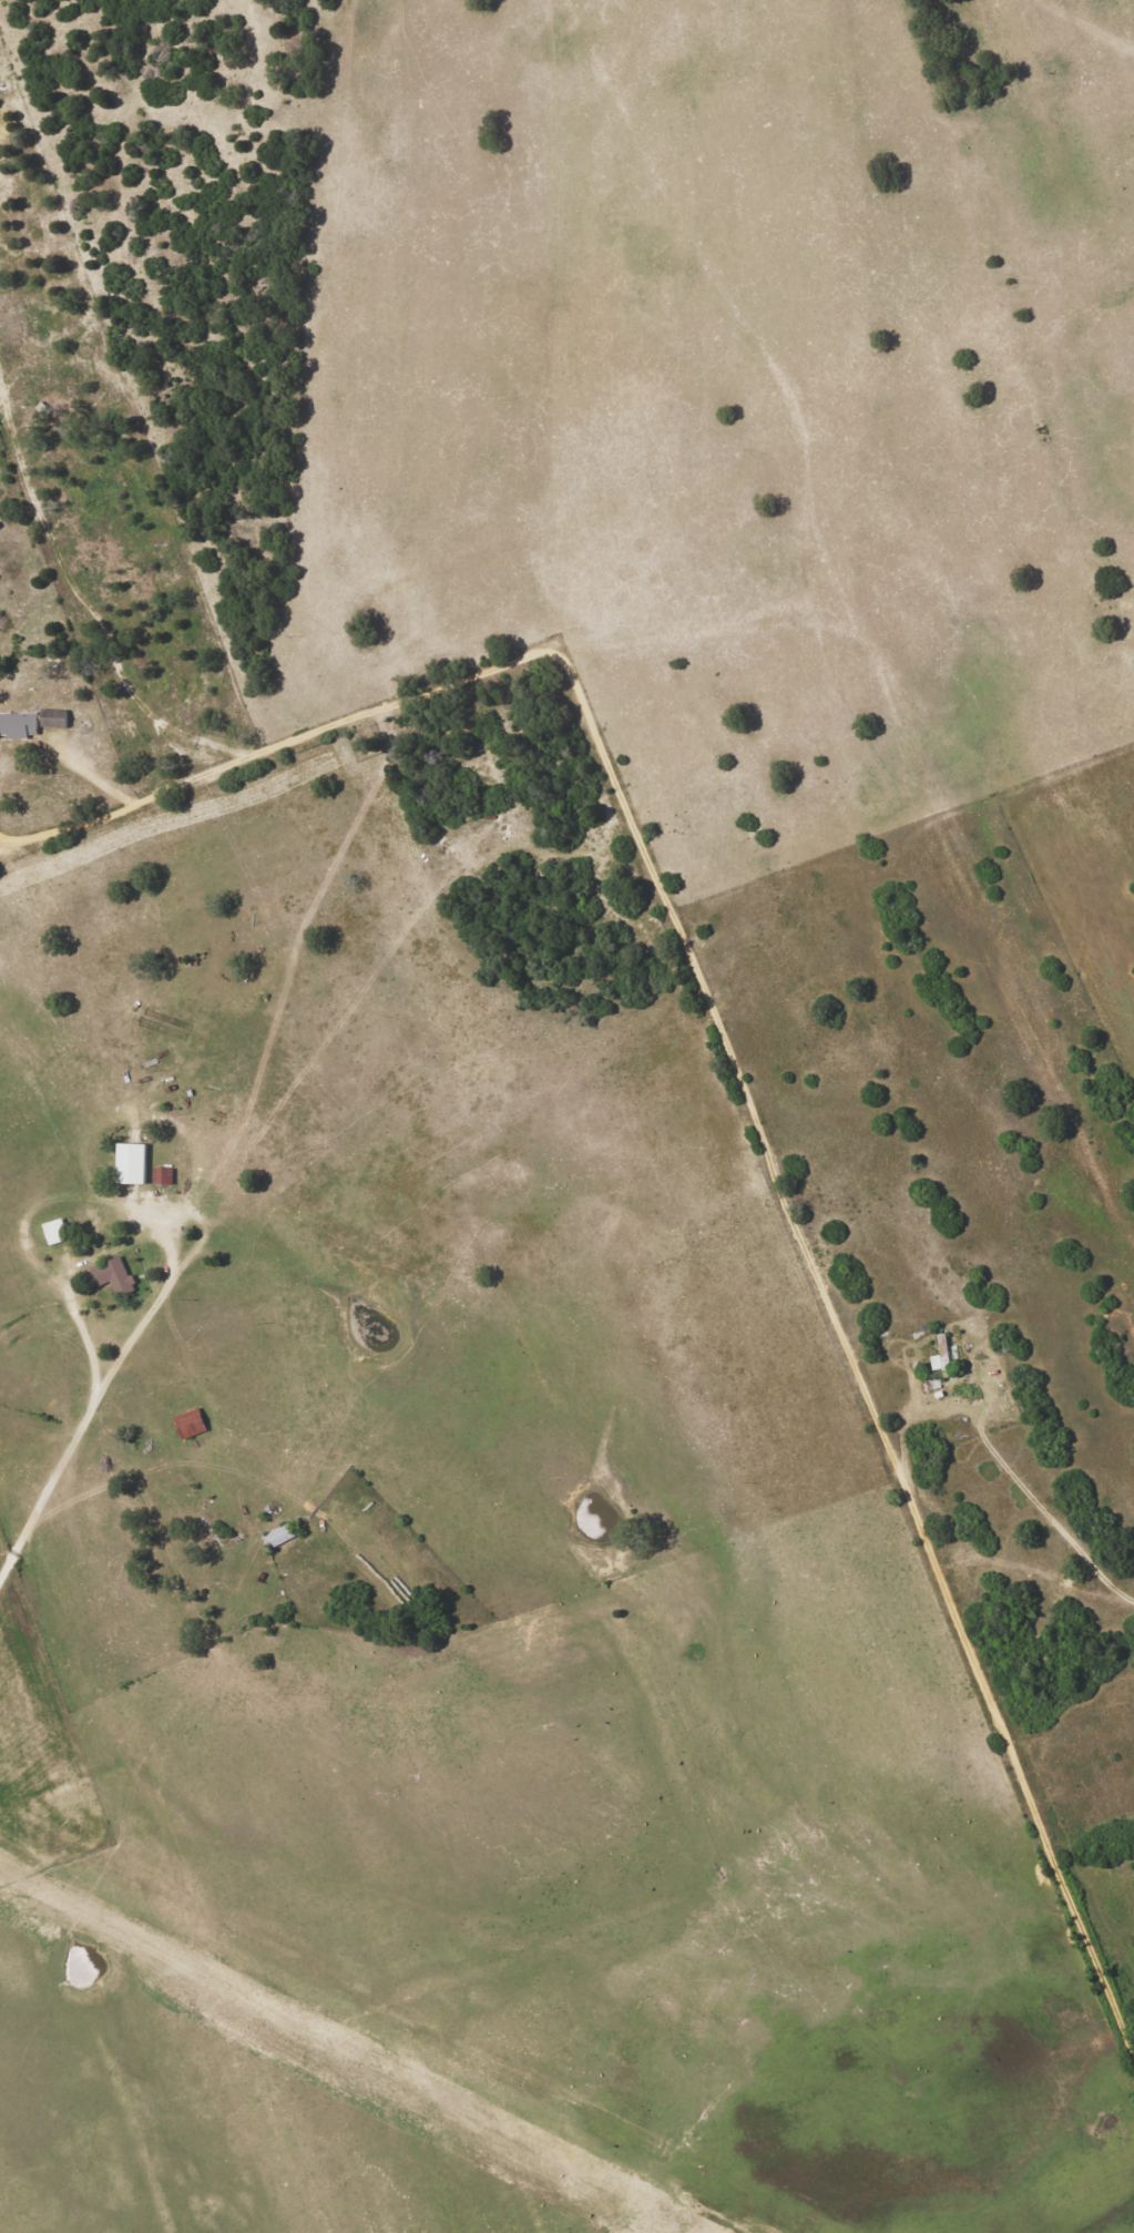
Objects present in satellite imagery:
road: (498, 334)
building: (50, 718)
building: (16, 725)
road: (113, 726)
road: (738, 1081)
building: (129, 1164)
building: (161, 1176)
building: (52, 1232)
building: (112, 1276)
building: (939, 1355)
road: (54, 1378)
building: (187, 1425)
road: (995, 1465)
road: (767, 1592)

